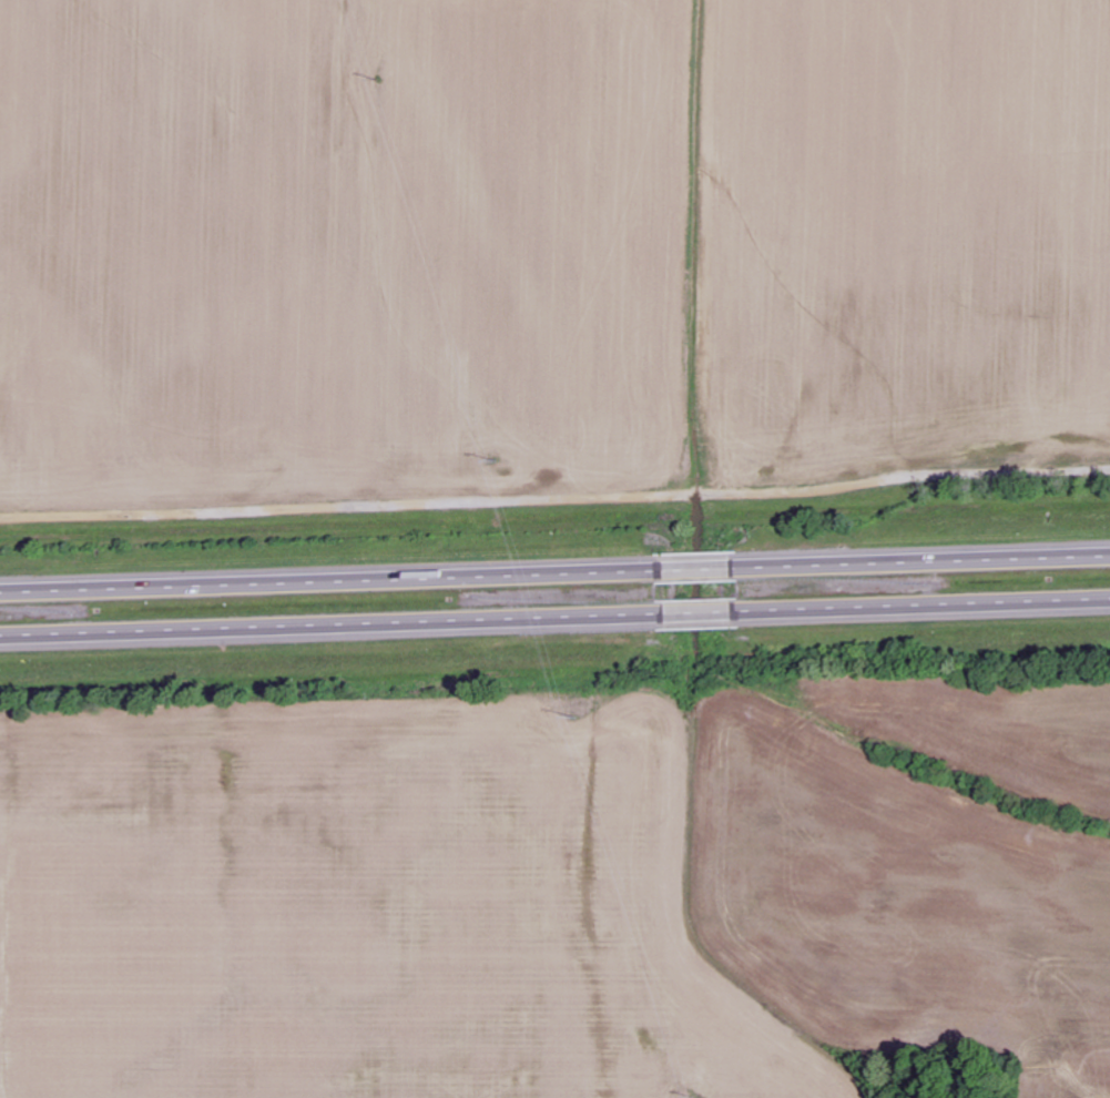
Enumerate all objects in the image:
road: (921, 558)
road: (699, 565)
road: (332, 577)
road: (921, 608)
road: (701, 616)
road: (334, 628)

